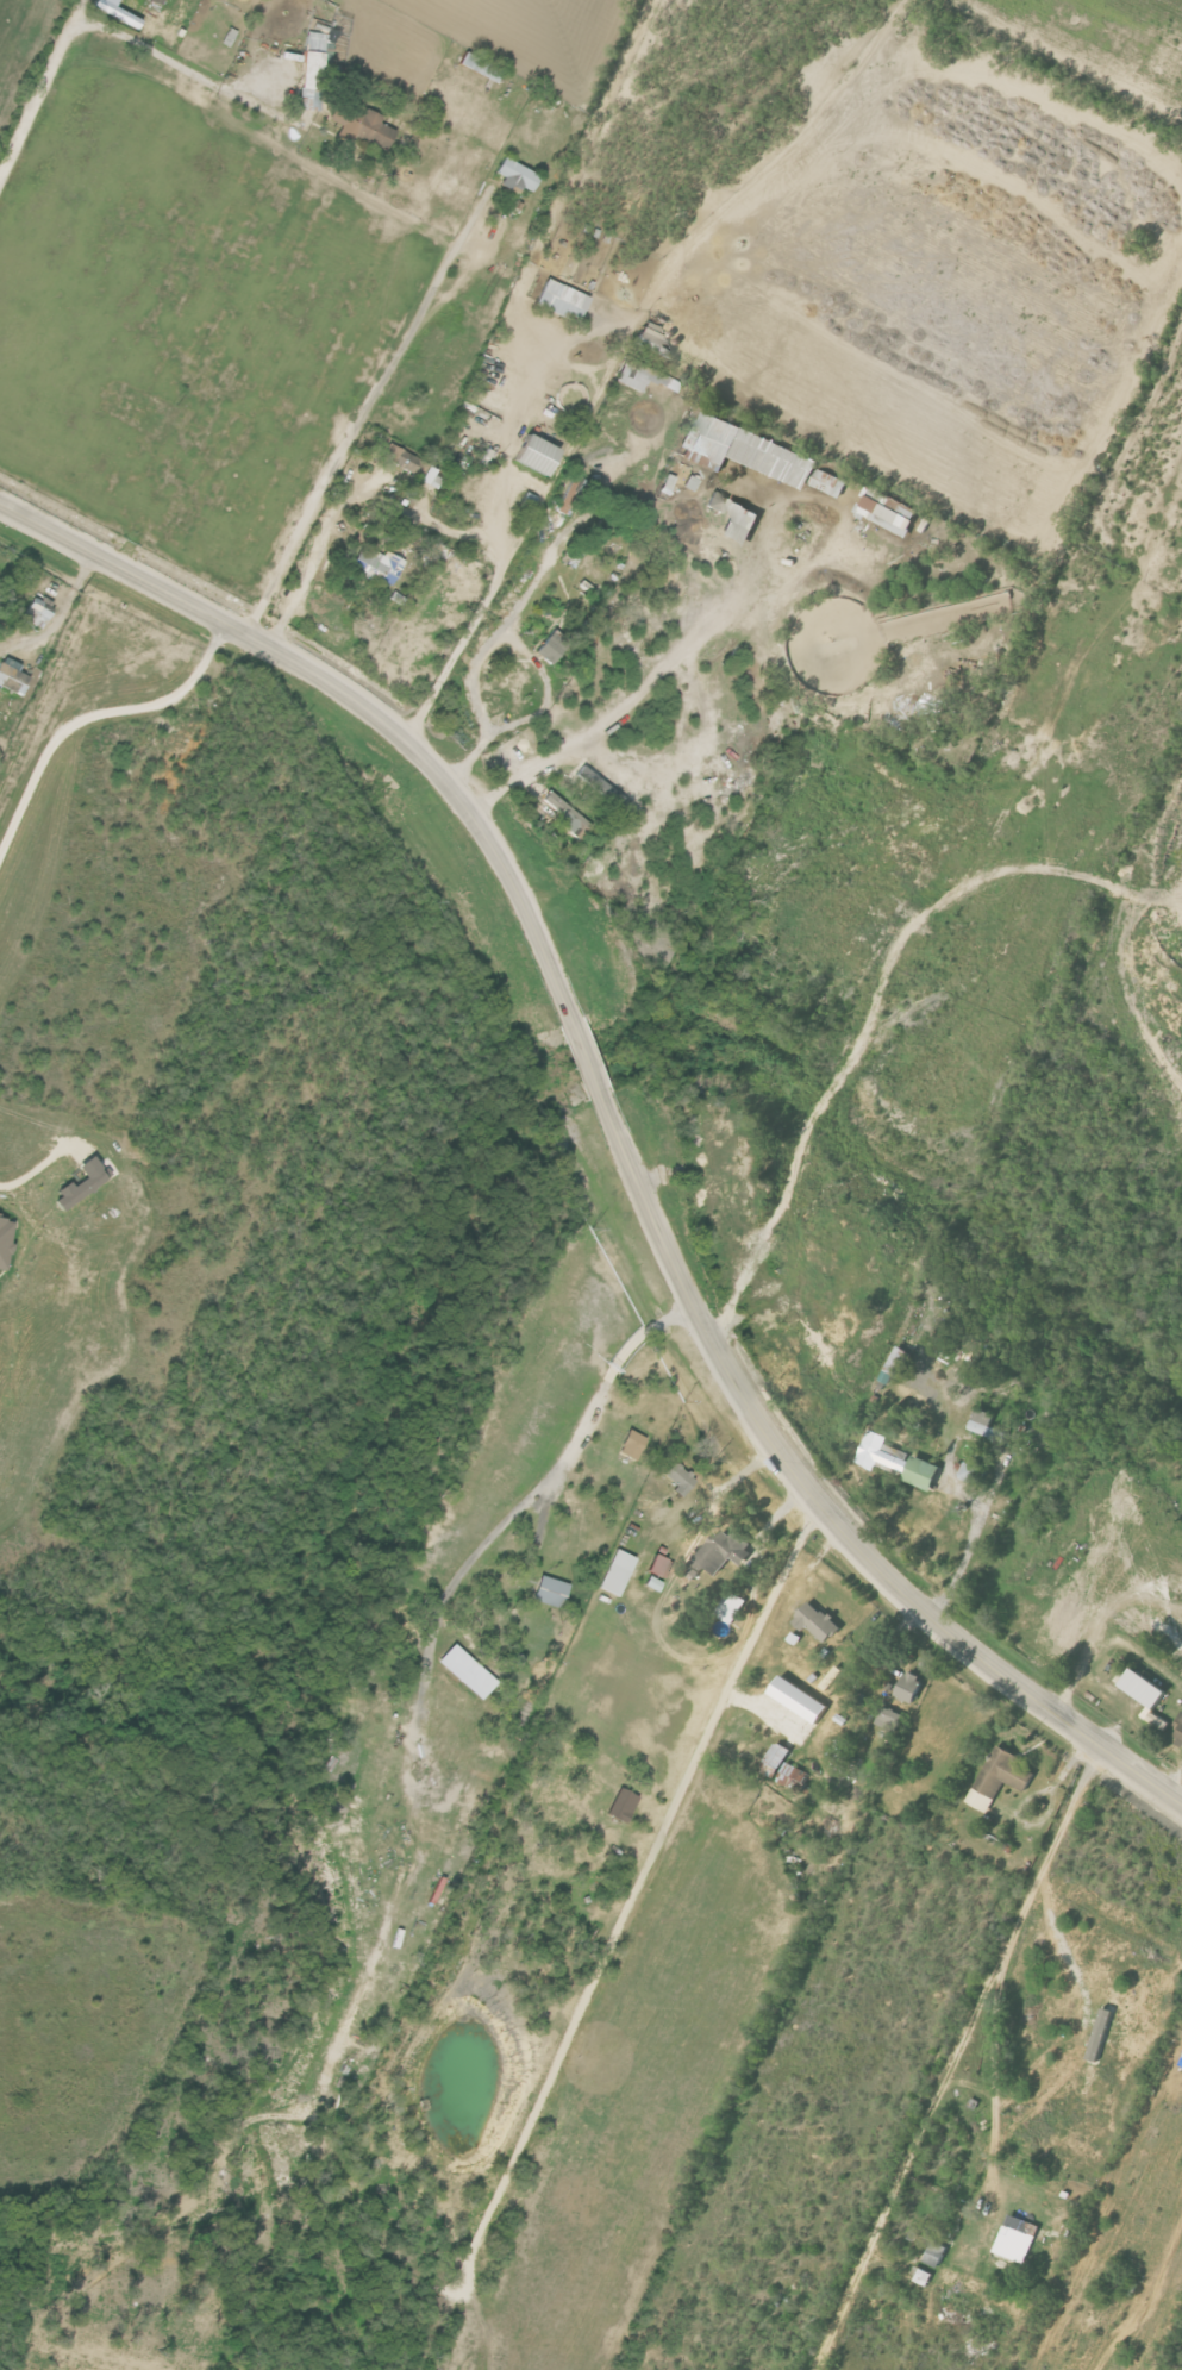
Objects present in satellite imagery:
building: (155, 1)
building: (124, 6)
road: (76, 11)
road: (126, 37)
building: (514, 174)
building: (559, 299)
building: (650, 337)
building: (642, 375)
road: (351, 426)
road: (568, 444)
building: (743, 449)
building: (532, 454)
building: (409, 464)
building: (689, 482)
building: (828, 482)
building: (665, 483)
building: (570, 492)
road: (343, 500)
building: (715, 501)
building: (888, 512)
building: (738, 523)
building: (569, 555)
building: (376, 562)
road: (58, 609)
building: (36, 611)
building: (550, 646)
airport runway: (1109, 651)
building: (11, 675)
road: (350, 698)
road: (627, 702)
road: (92, 717)
building: (596, 784)
building: (565, 815)
road: (582, 1058)
road: (42, 1165)
building: (79, 1181)
building: (4, 1239)
building: (896, 1365)
building: (984, 1425)
building: (630, 1445)
building: (881, 1455)
building: (920, 1474)
building: (970, 1474)
building: (675, 1477)
road: (555, 1478)
road: (818, 1505)
road: (970, 1543)
building: (723, 1551)
building: (658, 1567)
building: (614, 1572)
building: (549, 1592)
building: (730, 1607)
building: (815, 1622)
road: (671, 1645)
road: (737, 1668)
building: (465, 1671)
building: (909, 1687)
building: (1144, 1689)
building: (799, 1700)
building: (888, 1719)
building: (1158, 1721)
building: (1180, 1730)
building: (775, 1761)
building: (792, 1777)
building: (1000, 1780)
building: (619, 1805)
road: (1047, 1852)
road: (995, 2088)
road: (908, 2165)
building: (1015, 2238)
building: (934, 2255)
building: (923, 2277)

